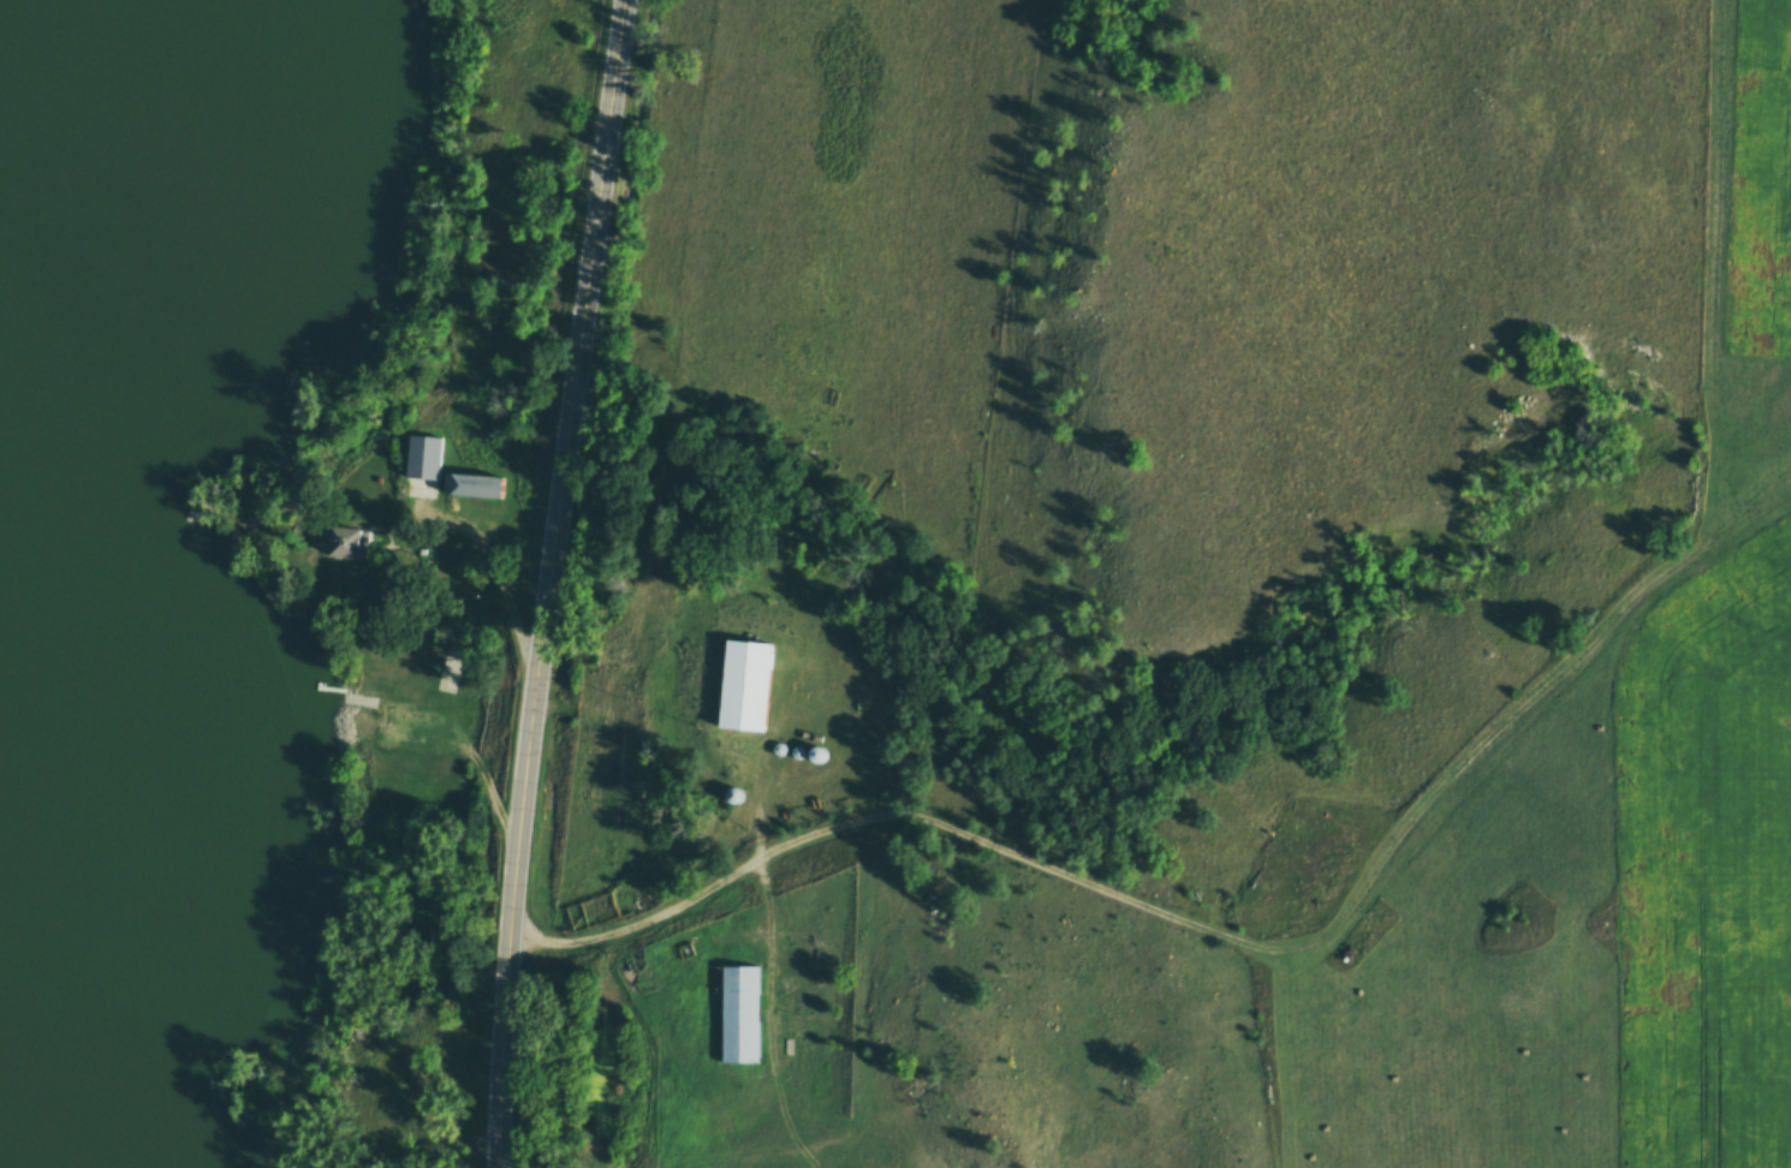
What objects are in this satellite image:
building: (422, 459)
building: (468, 490)
building: (346, 544)
road: (551, 583)
building: (608, 650)
building: (370, 685)
building: (742, 687)
pier: (333, 692)
road: (453, 732)
road: (1224, 888)
building: (737, 1014)

